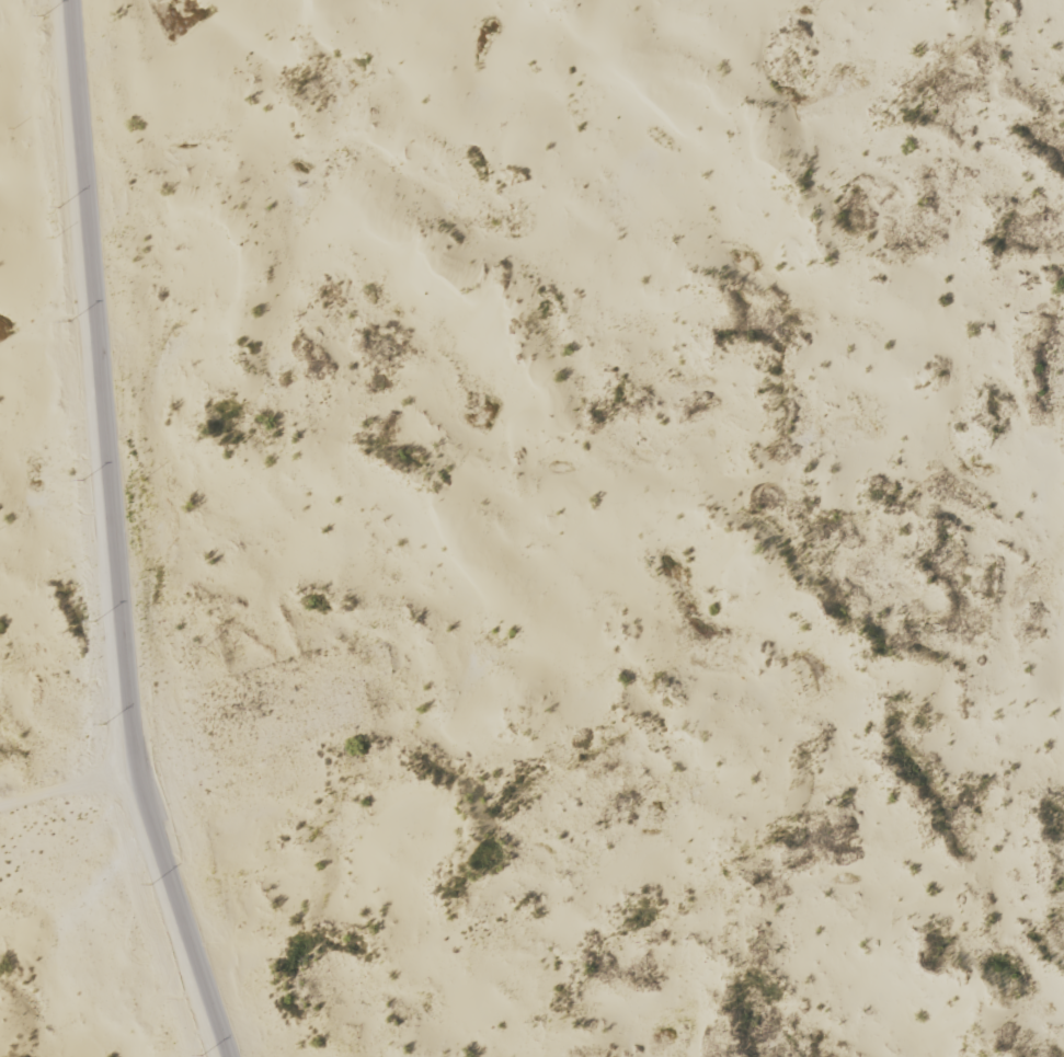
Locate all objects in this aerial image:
road: (111, 357)
road: (179, 886)

